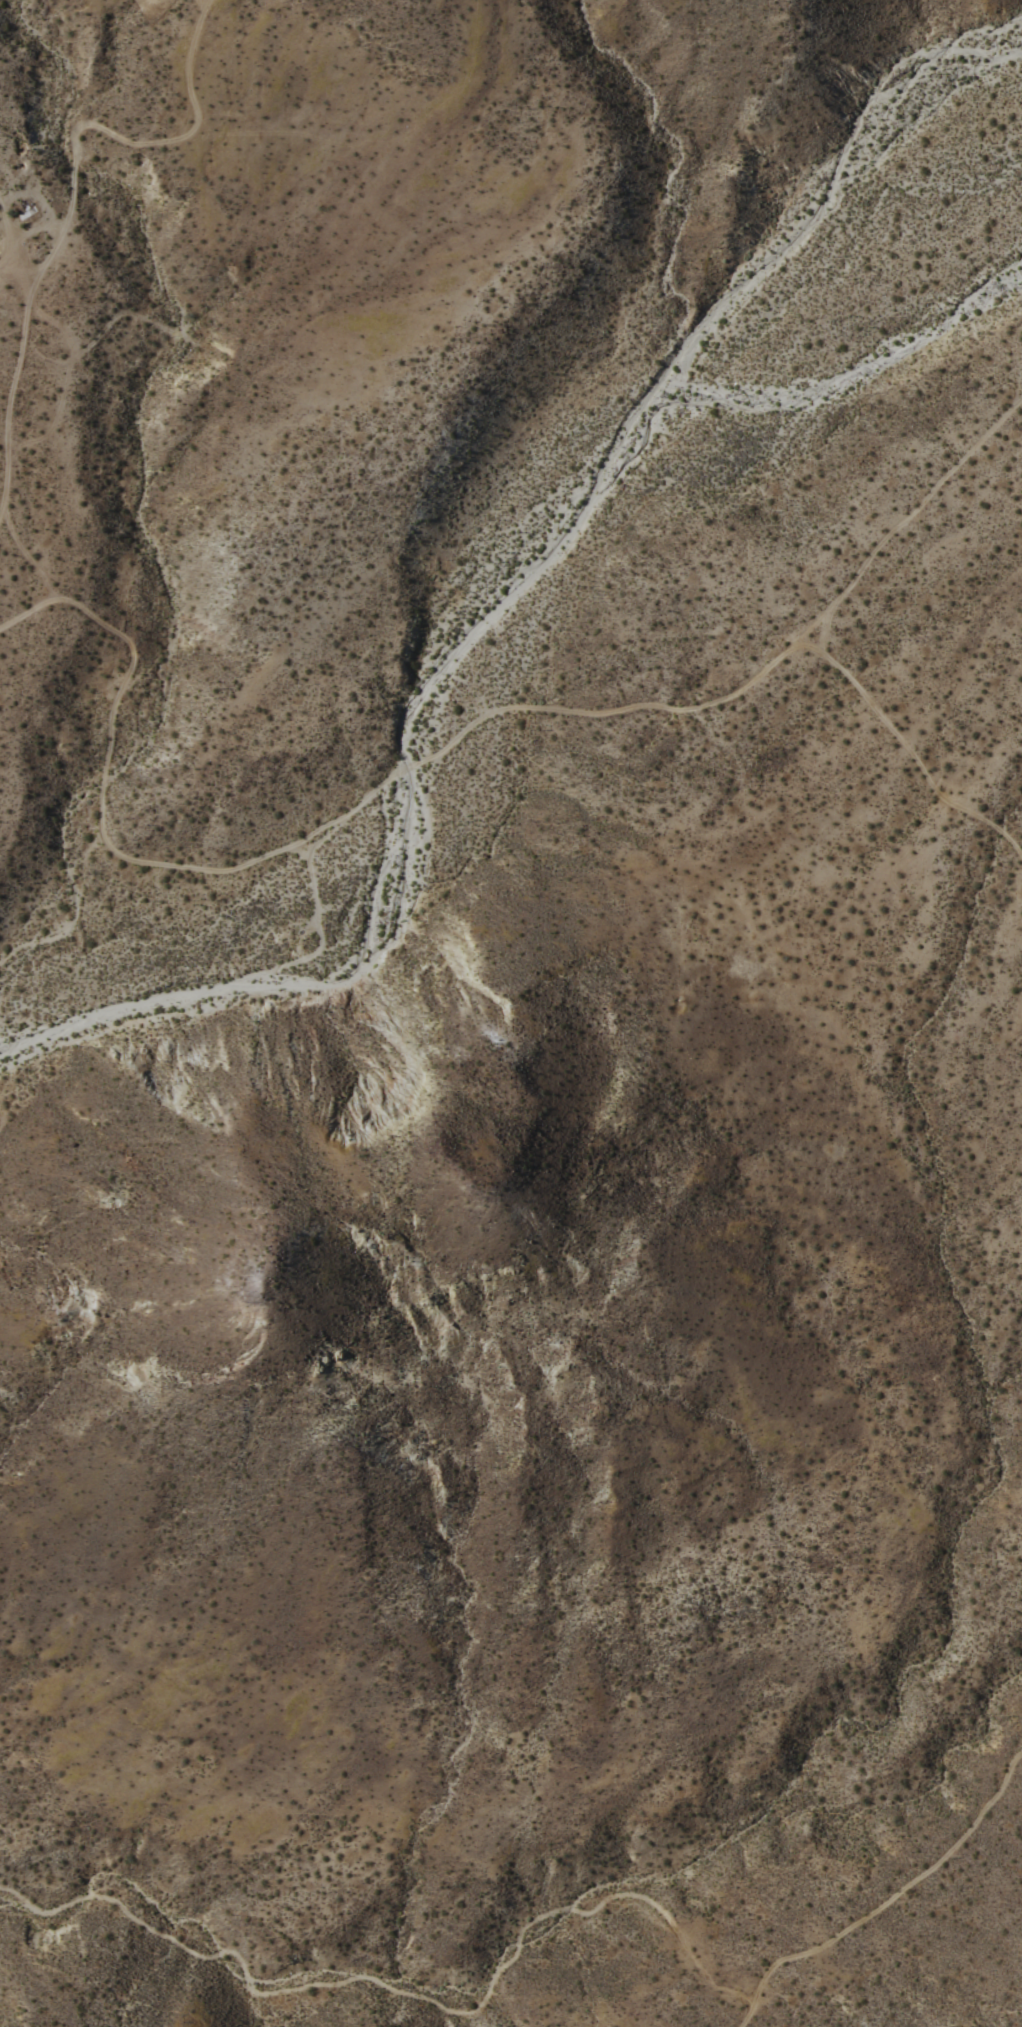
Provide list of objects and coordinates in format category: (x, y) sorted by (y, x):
road: (403, 1992)

